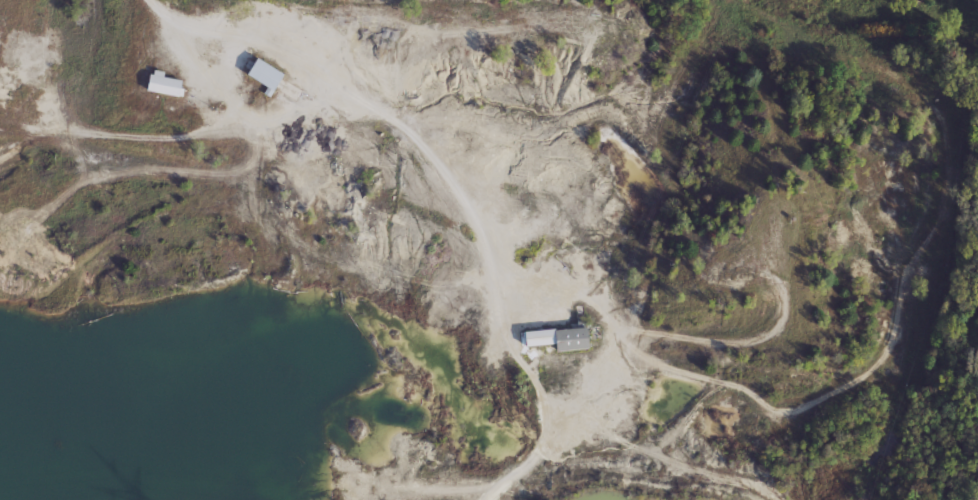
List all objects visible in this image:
building: (262, 73)
building: (161, 82)
road: (450, 187)
building: (555, 337)

